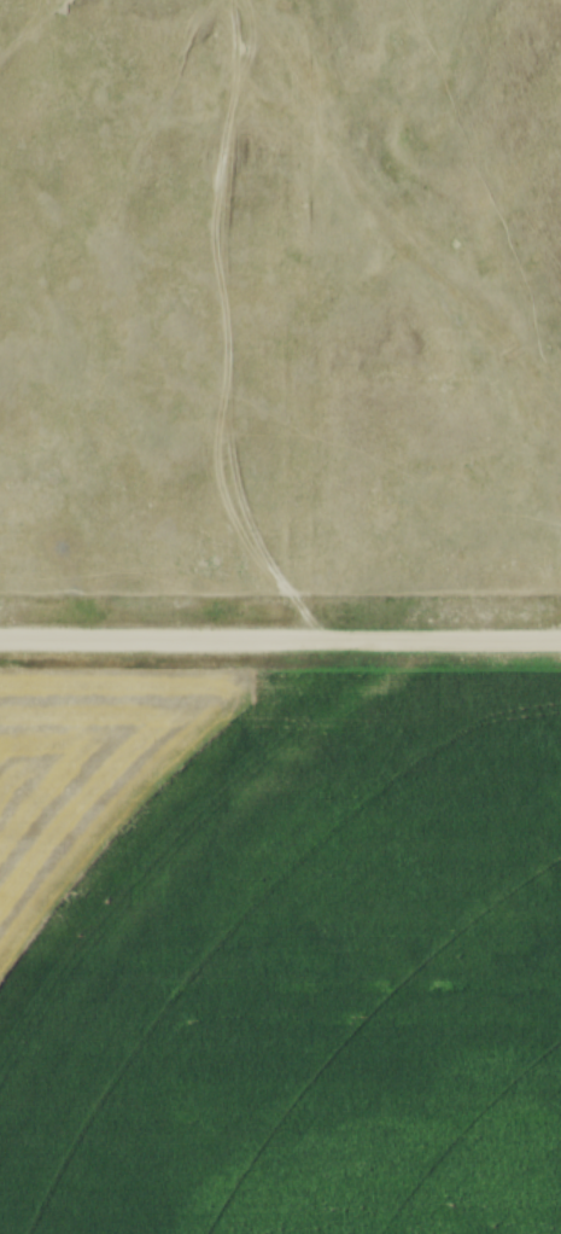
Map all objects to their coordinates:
road: (280, 641)

